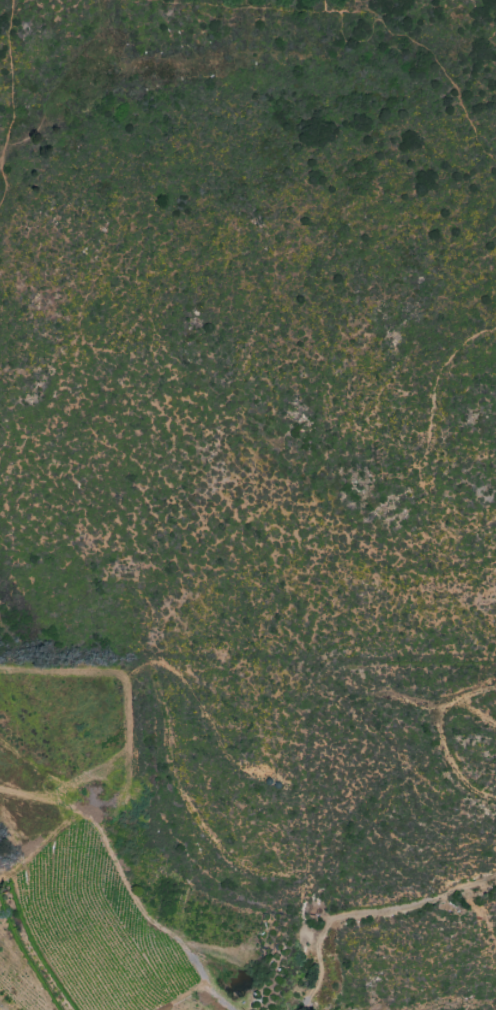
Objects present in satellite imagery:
road: (241, 8)
road: (331, 9)
road: (62, 80)
road: (12, 102)
road: (433, 382)

